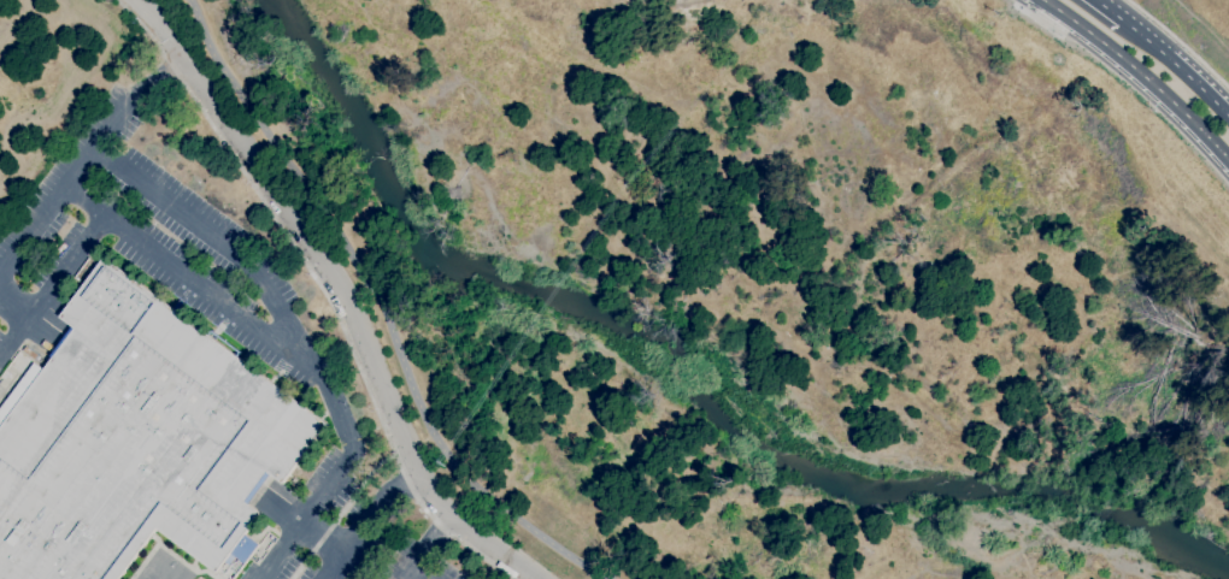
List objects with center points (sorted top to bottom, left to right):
road: (1107, 8)
road: (1037, 20)
road: (189, 41)
road: (1178, 43)
road: (1177, 64)
road: (1140, 75)
road: (84, 159)
road: (195, 285)
road: (49, 286)
road: (322, 288)
road: (337, 293)
road: (13, 307)
road: (372, 315)
road: (299, 337)
building: (30, 353)
river: (694, 380)
building: (136, 439)
road: (367, 522)
road: (330, 532)
road: (425, 546)
building: (245, 549)
park: (163, 569)
road: (422, 572)

